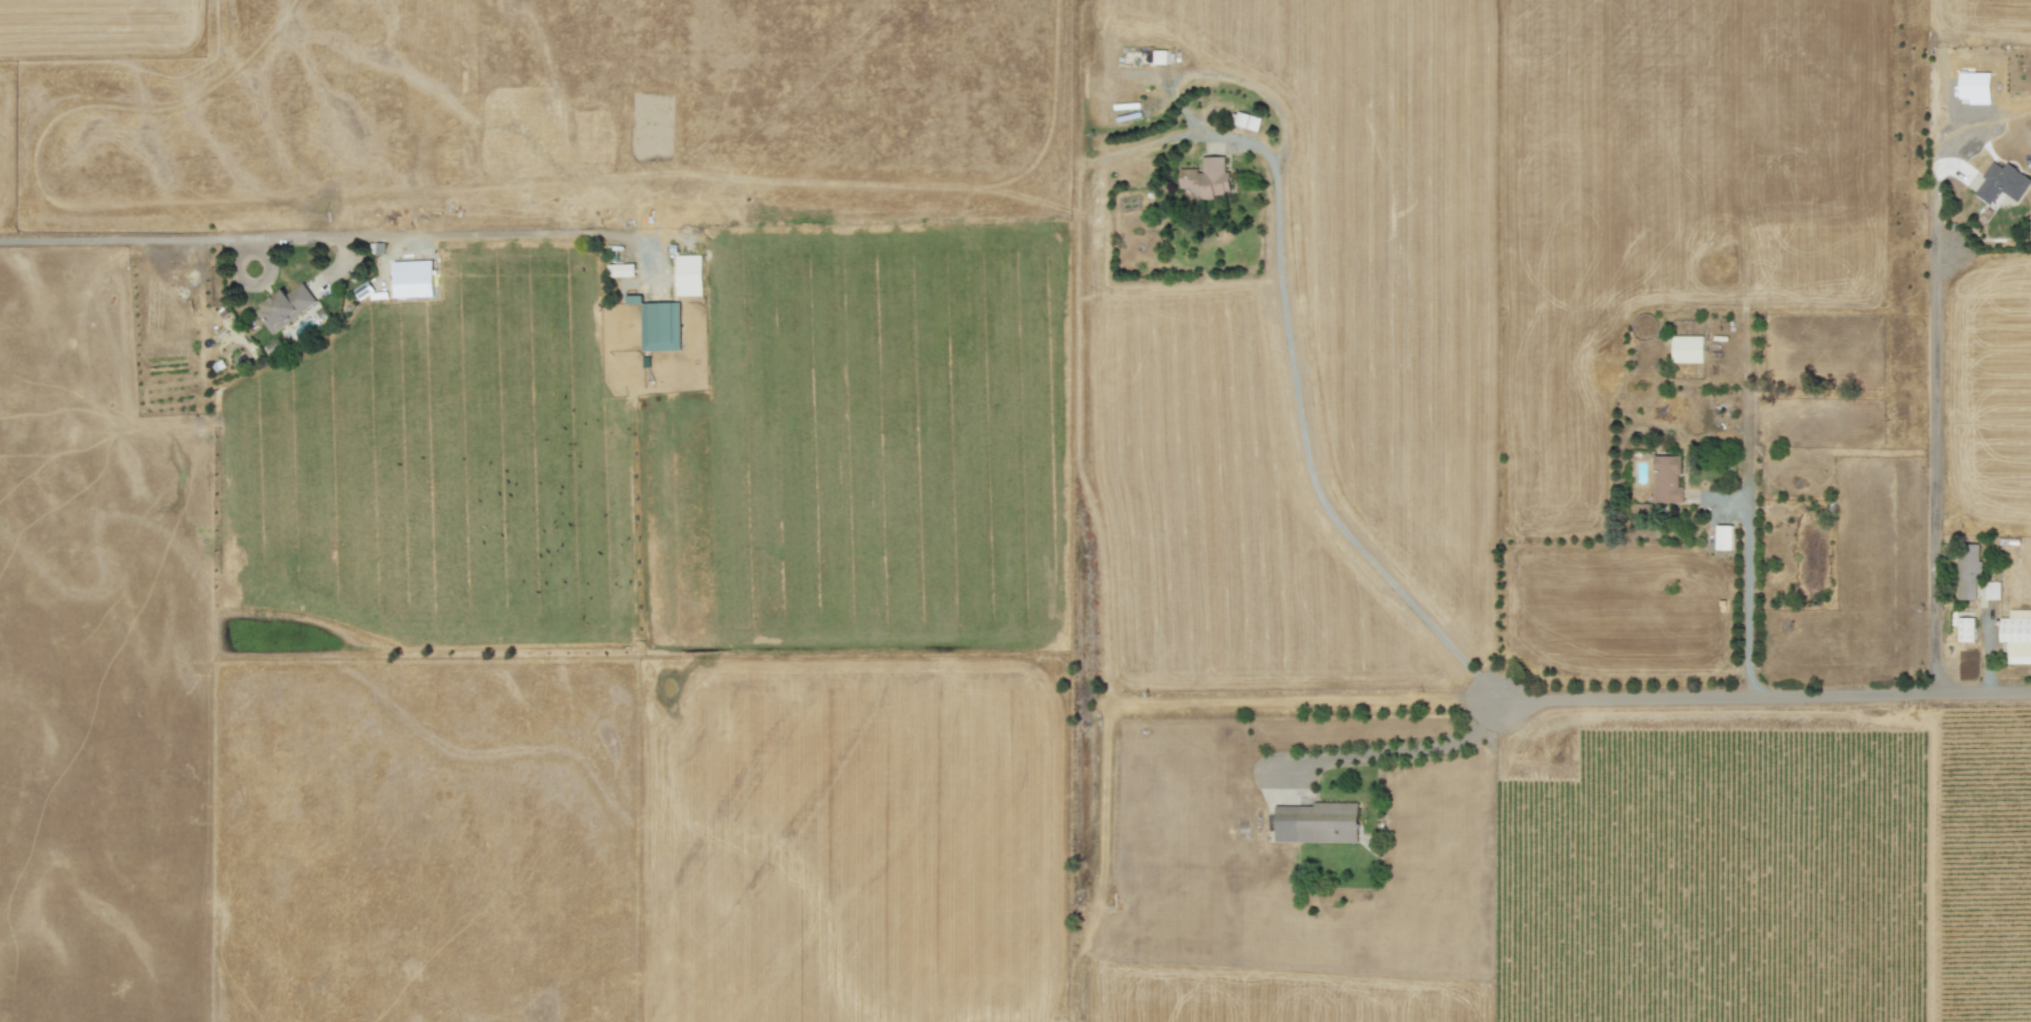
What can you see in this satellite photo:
building: (1160, 57)
building: (1975, 87)
building: (1247, 121)
building: (1207, 178)
building: (2002, 183)
road: (314, 236)
building: (378, 248)
building: (623, 270)
building: (689, 275)
building: (286, 307)
building: (659, 324)
building: (275, 345)
building: (1688, 349)
road: (1305, 443)
road: (1933, 469)
building: (1667, 479)
building: (1724, 537)
building: (1970, 573)
building: (1992, 590)
road: (1746, 595)
building: (1966, 629)
building: (2017, 635)
road: (1988, 654)
road: (1763, 695)
road: (1395, 752)
building: (1317, 822)

